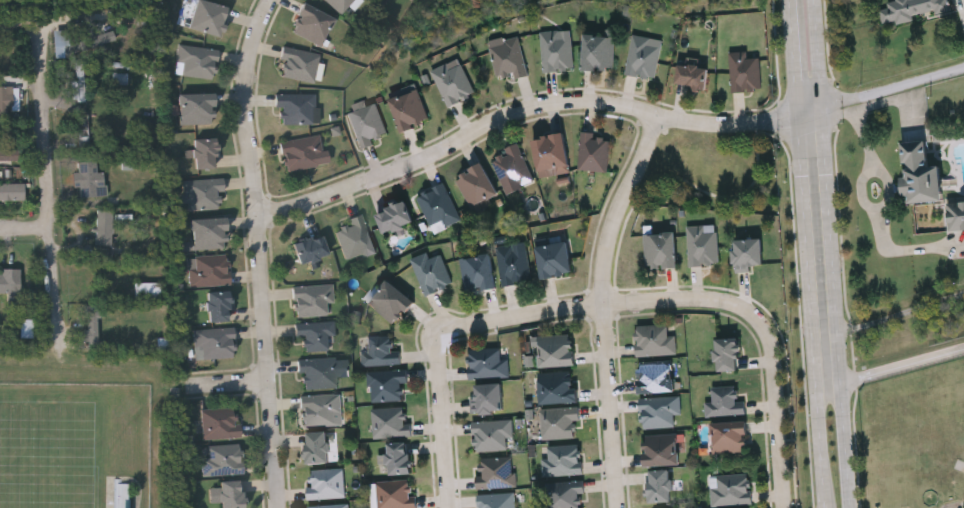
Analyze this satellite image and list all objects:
building: (339, 4)
building: (910, 9)
building: (208, 18)
road: (22, 22)
road: (97, 23)
building: (311, 25)
building: (89, 42)
building: (556, 50)
building: (598, 51)
building: (641, 57)
road: (794, 57)
building: (507, 59)
building: (197, 62)
building: (299, 66)
building: (744, 72)
building: (692, 75)
building: (79, 82)
building: (453, 83)
road: (819, 86)
road: (892, 87)
building: (4, 100)
road: (245, 103)
building: (295, 108)
building: (196, 109)
road: (809, 110)
building: (409, 111)
road: (727, 122)
building: (366, 124)
building: (84, 129)
road: (456, 141)
road: (800, 144)
building: (594, 152)
building: (203, 153)
building: (300, 153)
building: (551, 153)
building: (8, 155)
building: (512, 169)
building: (920, 174)
building: (88, 177)
road: (862, 180)
road: (51, 183)
building: (475, 185)
building: (12, 192)
building: (202, 195)
building: (438, 208)
building: (956, 215)
building: (394, 217)
building: (105, 226)
road: (26, 228)
building: (207, 235)
building: (355, 239)
building: (702, 245)
building: (310, 249)
building: (660, 251)
building: (748, 254)
building: (554, 259)
building: (513, 263)
building: (210, 271)
building: (430, 272)
building: (477, 273)
building: (10, 281)
building: (147, 292)
building: (312, 300)
road: (597, 300)
building: (390, 302)
building: (218, 306)
road: (602, 308)
road: (811, 310)
road: (888, 316)
building: (92, 326)
building: (316, 336)
road: (838, 340)
building: (654, 341)
building: (214, 343)
building: (380, 351)
building: (556, 351)
building: (727, 355)
road: (267, 360)
building: (487, 363)
road: (890, 369)
building: (318, 374)
building: (656, 377)
building: (387, 384)
building: (557, 388)
building: (487, 398)
building: (725, 402)
road: (777, 407)
building: (320, 409)
building: (659, 412)
building: (390, 422)
building: (558, 422)
building: (219, 424)
road: (444, 425)
park: (85, 435)
building: (492, 435)
building: (729, 437)
building: (317, 447)
building: (660, 449)
park: (47, 453)
building: (397, 458)
building: (562, 460)
building: (223, 461)
building: (495, 472)
road: (823, 477)
building: (326, 483)
building: (659, 486)
building: (730, 489)
building: (395, 494)
building: (228, 495)
building: (565, 495)
building: (497, 500)
building: (329, 506)
building: (674, 507)

